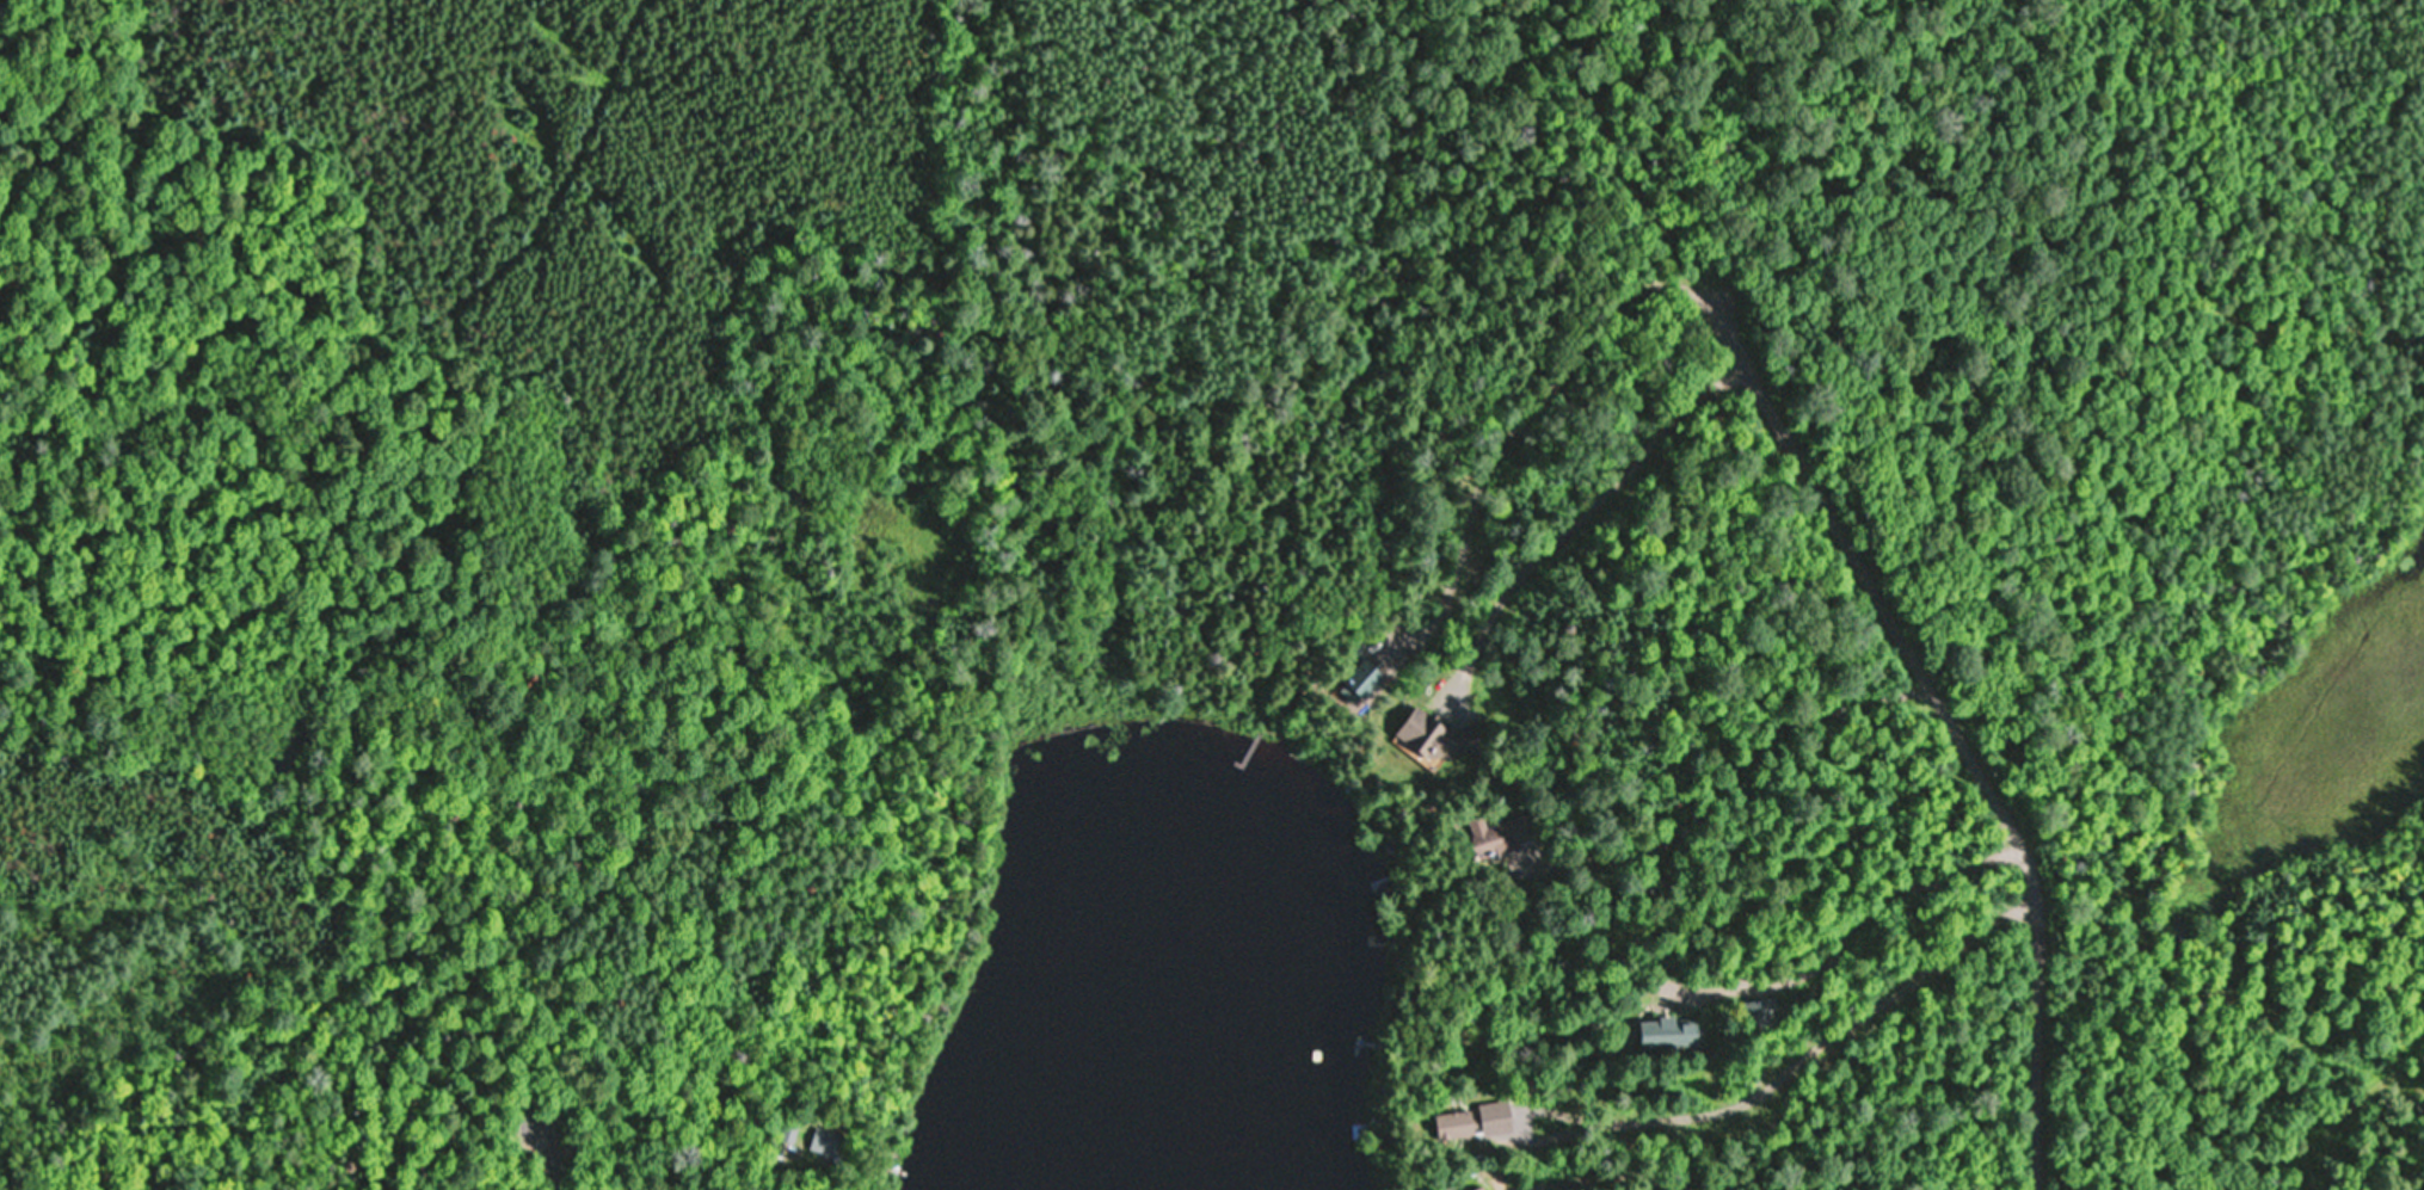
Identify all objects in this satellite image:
road: (1936, 711)
building: (1428, 741)
building: (1495, 838)
building: (1761, 1013)
building: (1659, 1032)
road: (528, 1111)
building: (1453, 1124)
building: (825, 1142)
building: (1479, 1188)

